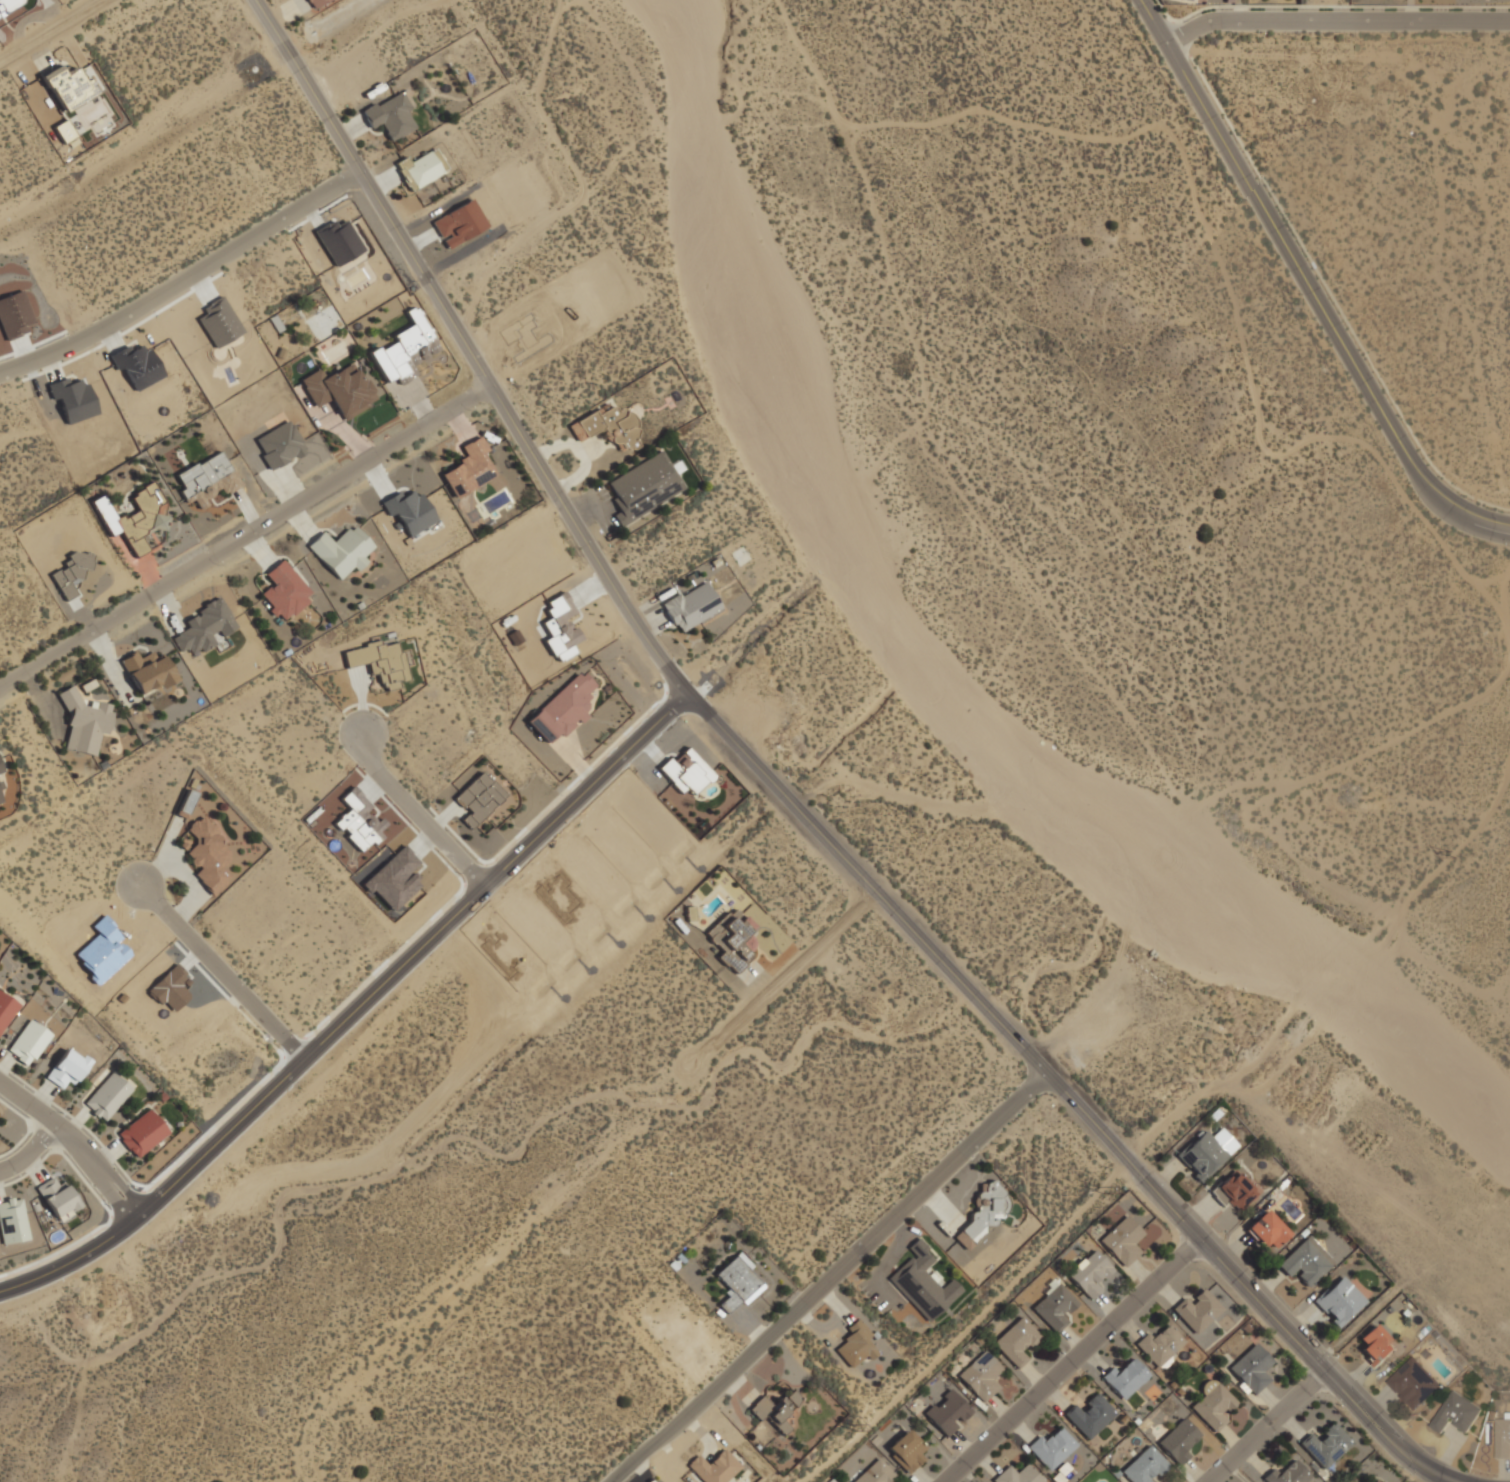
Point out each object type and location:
building: (313, 3)
building: (8, 5)
road: (1335, 21)
road: (51, 32)
building: (67, 86)
building: (390, 115)
building: (64, 130)
building: (419, 169)
building: (458, 223)
building: (341, 244)
road: (183, 280)
road: (1307, 285)
building: (14, 315)
building: (219, 321)
building: (532, 331)
road: (467, 347)
building: (404, 349)
building: (138, 365)
building: (339, 389)
building: (72, 398)
building: (609, 426)
building: (279, 445)
building: (468, 469)
building: (201, 477)
building: (643, 487)
building: (410, 511)
building: (134, 522)
road: (245, 536)
building: (341, 550)
building: (69, 572)
building: (283, 590)
building: (690, 606)
building: (560, 625)
building: (204, 626)
building: (379, 662)
building: (147, 671)
river: (929, 687)
building: (563, 708)
building: (83, 721)
building: (1, 768)
building: (685, 772)
building: (478, 798)
building: (1, 800)
building: (130, 803)
building: (185, 803)
road: (418, 808)
building: (649, 818)
building: (354, 820)
building: (618, 842)
building: (207, 854)
power tower: (1460, 864)
building: (591, 872)
building: (60, 877)
building: (393, 878)
road: (867, 882)
building: (559, 897)
building: (730, 940)
building: (101, 949)
building: (505, 951)
road: (221, 972)
building: (170, 987)
road: (356, 1007)
building: (6, 1008)
building: (28, 1042)
building: (66, 1067)
building: (106, 1096)
building: (141, 1133)
road: (74, 1143)
road: (31, 1152)
building: (1205, 1152)
road: (578, 1178)
building: (1233, 1190)
building: (56, 1197)
power tower: (1109, 1199)
building: (982, 1213)
building: (11, 1220)
building: (1267, 1229)
building: (1123, 1240)
building: (1306, 1261)
building: (1089, 1271)
road: (831, 1278)
building: (736, 1282)
road: (1245, 1282)
building: (923, 1283)
building: (1339, 1301)
building: (1054, 1306)
building: (1196, 1310)
building: (56, 1320)
building: (1017, 1341)
building: (1159, 1345)
building: (1376, 1345)
building: (857, 1346)
building: (66, 1356)
road: (1072, 1359)
building: (1250, 1369)
building: (981, 1375)
building: (1125, 1378)
building: (1413, 1383)
road: (16, 1397)
building: (70, 1397)
building: (1212, 1404)
building: (775, 1410)
building: (948, 1412)
building: (1456, 1413)
building: (1089, 1415)
road: (1270, 1426)
building: (73, 1433)
power tower: (860, 1436)
building: (1502, 1437)
building: (1178, 1441)
building: (1325, 1445)
building: (1053, 1447)
building: (907, 1450)
building: (1143, 1466)
building: (713, 1467)
building: (84, 1470)
building: (875, 1472)
building: (1019, 1474)
building: (1287, 1474)
building: (1374, 1480)

